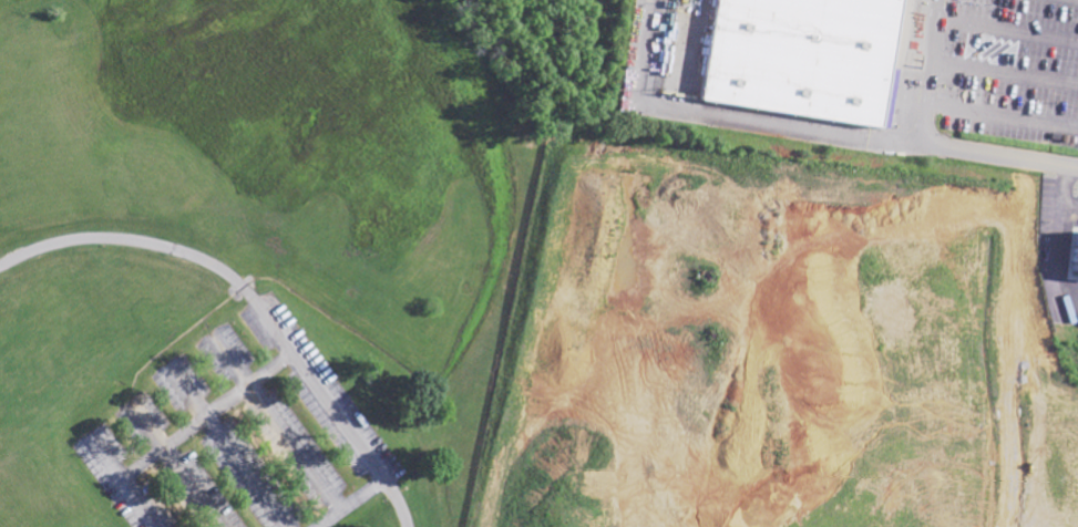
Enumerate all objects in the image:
road: (1007, 31)
building: (810, 56)
parking lot: (1019, 70)
road: (1005, 74)
road: (928, 83)
road: (1002, 113)
road: (1016, 155)
building: (1068, 255)
road: (257, 303)
road: (255, 383)
road: (304, 444)
road: (143, 461)
road: (256, 468)
road: (351, 505)

